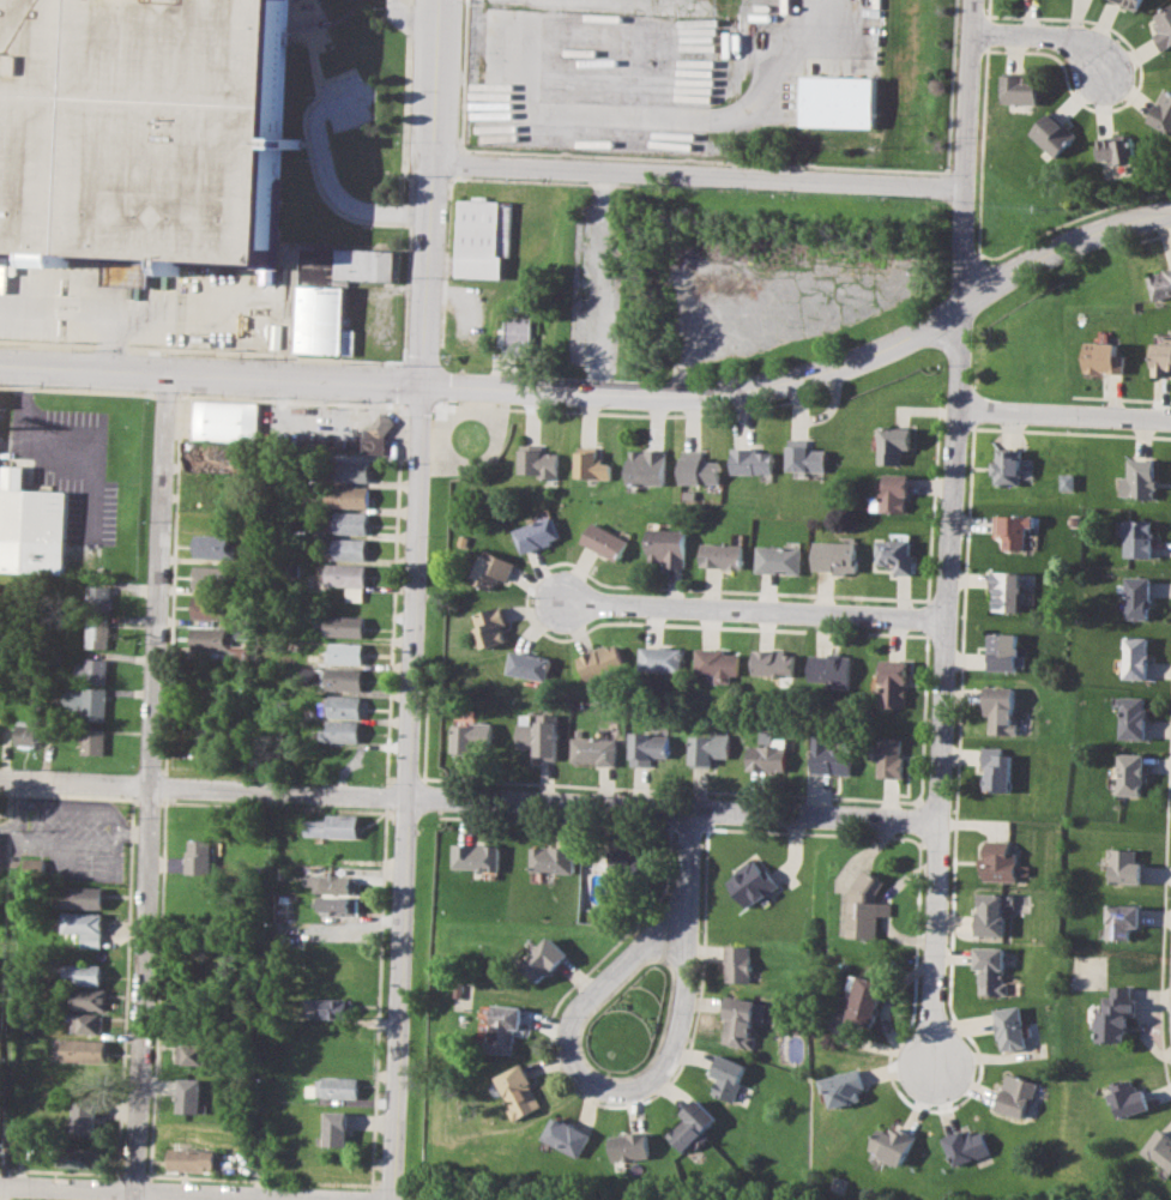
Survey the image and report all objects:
building: (1131, 2)
parking lot: (556, 4)
road: (409, 22)
building: (1164, 25)
road: (1046, 32)
parking lot: (669, 65)
building: (1020, 88)
parking lot: (348, 101)
building: (838, 101)
building: (1163, 110)
road: (668, 116)
building: (143, 127)
building: (1052, 133)
building: (1116, 147)
road: (326, 174)
road: (698, 174)
road: (429, 193)
building: (484, 236)
building: (344, 265)
road: (598, 282)
building: (1159, 283)
road: (145, 299)
parking lot: (141, 300)
building: (326, 322)
road: (919, 327)
building: (521, 333)
road: (109, 334)
building: (1161, 356)
building: (1103, 357)
road: (382, 361)
road: (210, 378)
road: (537, 392)
road: (1063, 417)
building: (386, 421)
building: (285, 423)
building: (891, 444)
road: (60, 447)
building: (804, 454)
building: (752, 459)
building: (542, 462)
building: (592, 464)
building: (648, 465)
building: (1006, 465)
building: (699, 468)
building: (352, 469)
building: (1139, 478)
building: (1064, 480)
building: (892, 493)
building: (348, 495)
building: (350, 521)
building: (34, 526)
building: (1010, 529)
building: (538, 533)
road: (949, 533)
building: (1136, 538)
building: (606, 539)
building: (669, 544)
building: (215, 545)
building: (345, 548)
building: (724, 554)
building: (837, 555)
building: (897, 555)
building: (780, 557)
building: (493, 568)
building: (346, 573)
building: (213, 575)
building: (1006, 590)
building: (355, 595)
building: (99, 596)
building: (1135, 596)
building: (215, 607)
road: (593, 611)
road: (792, 619)
building: (342, 623)
building: (491, 627)
building: (98, 633)
building: (242, 635)
building: (215, 640)
building: (344, 652)
building: (1003, 652)
building: (1134, 656)
building: (663, 658)
building: (602, 661)
building: (718, 662)
building: (775, 662)
building: (530, 664)
building: (832, 668)
building: (93, 669)
building: (332, 676)
building: (895, 682)
building: (89, 701)
building: (343, 705)
building: (1000, 707)
building: (1133, 717)
building: (28, 730)
building: (340, 731)
building: (542, 735)
building: (472, 736)
building: (95, 738)
building: (648, 746)
building: (710, 747)
building: (596, 749)
building: (769, 755)
building: (832, 755)
building: (891, 758)
building: (996, 766)
building: (1130, 772)
road: (146, 788)
road: (22, 791)
road: (405, 794)
road: (469, 801)
building: (334, 825)
road: (132, 830)
parking lot: (66, 834)
road: (30, 839)
building: (200, 856)
building: (476, 856)
building: (553, 858)
building: (624, 858)
building: (1000, 862)
building: (1123, 864)
building: (36, 866)
road: (689, 867)
building: (755, 881)
building: (333, 884)
building: (80, 897)
building: (867, 904)
building: (338, 905)
building: (990, 913)
building: (1119, 918)
building: (85, 925)
building: (544, 958)
building: (736, 961)
building: (990, 967)
building: (79, 973)
road: (677, 994)
building: (85, 997)
building: (868, 997)
building: (330, 1008)
road: (886, 1009)
building: (1113, 1014)
building: (736, 1020)
building: (86, 1023)
road: (1143, 1023)
building: (1010, 1025)
building: (505, 1027)
building: (84, 1049)
building: (191, 1053)
building: (724, 1074)
building: (334, 1086)
building: (845, 1086)
building: (520, 1091)
building: (189, 1095)
building: (1015, 1095)
building: (1128, 1098)
building: (85, 1116)
building: (0, 1117)
building: (336, 1120)
building: (690, 1123)
building: (566, 1135)
building: (892, 1142)
building: (628, 1146)
building: (1159, 1146)
building: (964, 1147)
building: (82, 1158)
building: (192, 1158)
road: (180, 1192)
road: (0, 1193)
park: (445, 1198)

